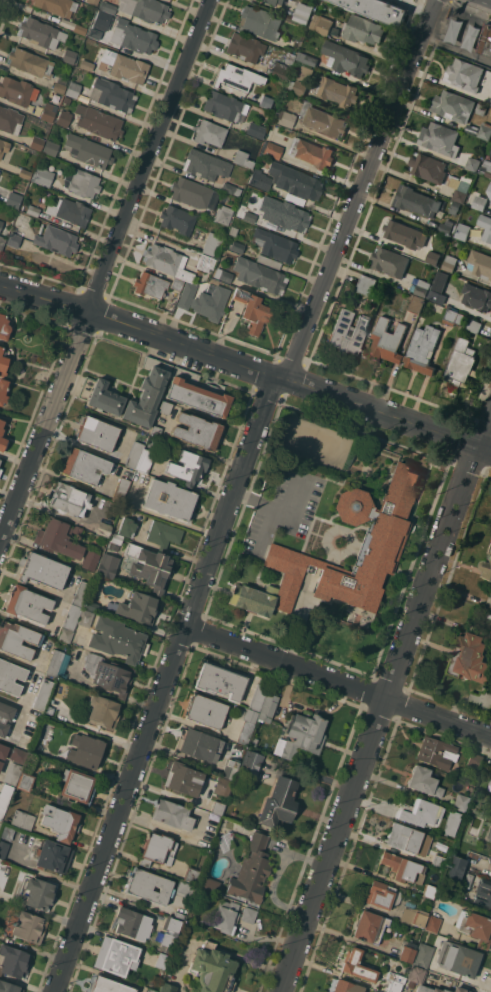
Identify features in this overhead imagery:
building: (93, 1)
building: (276, 2)
building: (58, 6)
building: (108, 7)
building: (145, 9)
building: (378, 10)
building: (302, 12)
building: (102, 19)
building: (259, 22)
building: (321, 24)
building: (80, 29)
building: (363, 29)
building: (41, 33)
building: (133, 36)
building: (485, 40)
building: (245, 47)
building: (69, 55)
building: (306, 58)
building: (346, 58)
building: (288, 59)
building: (29, 62)
building: (87, 65)
building: (125, 66)
building: (281, 71)
building: (305, 73)
building: (464, 75)
building: (236, 77)
building: (60, 84)
building: (297, 86)
building: (73, 89)
building: (17, 90)
building: (337, 91)
building: (112, 95)
building: (66, 99)
building: (266, 101)
building: (490, 104)
building: (222, 105)
building: (453, 106)
building: (481, 108)
building: (48, 112)
building: (63, 118)
building: (285, 118)
building: (10, 120)
building: (325, 121)
building: (99, 122)
building: (471, 128)
building: (255, 130)
building: (485, 131)
building: (210, 133)
building: (440, 138)
building: (37, 142)
building: (3, 146)
building: (51, 147)
building: (272, 149)
building: (88, 150)
building: (490, 152)
building: (311, 153)
building: (242, 159)
building: (206, 164)
building: (472, 164)
building: (428, 168)
building: (487, 168)
building: (25, 173)
building: (42, 176)
building: (287, 180)
building: (82, 183)
building: (231, 188)
building: (459, 188)
road: (358, 189)
building: (490, 190)
building: (193, 193)
building: (269, 197)
building: (13, 199)
building: (488, 200)
building: (415, 201)
building: (479, 202)
building: (454, 207)
building: (32, 210)
building: (70, 211)
building: (251, 212)
building: (223, 214)
building: (290, 216)
building: (177, 219)
building: (1, 224)
building: (485, 226)
building: (444, 228)
building: (233, 230)
building: (462, 231)
building: (405, 232)
building: (13, 240)
building: (56, 240)
building: (2, 242)
building: (212, 244)
building: (275, 244)
building: (237, 246)
building: (433, 257)
building: (269, 261)
building: (390, 261)
building: (167, 262)
building: (204, 262)
building: (449, 263)
building: (480, 264)
road: (104, 267)
building: (223, 275)
building: (259, 275)
building: (177, 283)
building: (366, 284)
building: (150, 285)
building: (422, 287)
building: (438, 287)
building: (186, 295)
building: (476, 297)
building: (210, 301)
building: (417, 304)
building: (253, 311)
building: (453, 317)
building: (474, 325)
building: (3, 327)
building: (347, 333)
building: (387, 340)
building: (423, 349)
building: (3, 360)
building: (461, 364)
road: (246, 365)
building: (3, 391)
building: (147, 392)
building: (197, 392)
building: (100, 395)
building: (165, 407)
building: (155, 431)
building: (196, 431)
building: (97, 433)
building: (2, 438)
building: (134, 454)
building: (0, 459)
building: (152, 460)
building: (84, 466)
building: (189, 467)
building: (0, 469)
building: (121, 489)
building: (69, 499)
building: (168, 499)
road: (272, 506)
building: (130, 511)
building: (127, 527)
building: (103, 528)
building: (163, 532)
building: (385, 533)
building: (59, 538)
building: (115, 541)
building: (90, 559)
building: (108, 565)
building: (148, 566)
building: (487, 568)
building: (42, 570)
building: (81, 593)
building: (28, 604)
building: (91, 605)
building: (138, 607)
building: (71, 616)
building: (85, 618)
building: (64, 634)
building: (17, 639)
building: (118, 639)
building: (471, 657)
building: (55, 662)
building: (109, 674)
building: (11, 677)
building: (219, 681)
road: (337, 681)
road: (164, 683)
building: (43, 694)
building: (258, 697)
building: (481, 699)
road: (381, 701)
building: (53, 704)
building: (268, 707)
building: (6, 711)
building: (206, 711)
building: (103, 712)
building: (247, 726)
building: (31, 727)
building: (3, 728)
building: (302, 734)
building: (253, 741)
building: (200, 745)
building: (86, 750)
building: (3, 751)
building: (436, 752)
building: (17, 755)
building: (475, 760)
building: (251, 763)
building: (1, 764)
building: (230, 769)
building: (12, 773)
building: (183, 778)
building: (25, 781)
building: (424, 781)
building: (490, 782)
building: (77, 786)
building: (222, 786)
building: (490, 791)
building: (4, 798)
building: (279, 802)
building: (461, 802)
building: (217, 808)
building: (420, 812)
building: (172, 814)
building: (21, 819)
building: (60, 822)
building: (452, 822)
building: (6, 832)
building: (490, 834)
building: (404, 837)
building: (490, 841)
building: (3, 849)
building: (157, 849)
building: (54, 856)
building: (433, 859)
building: (403, 867)
building: (454, 868)
building: (251, 869)
building: (192, 875)
building: (467, 880)
building: (208, 884)
building: (148, 886)
building: (184, 889)
building: (429, 891)
building: (483, 892)
building: (39, 893)
building: (382, 895)
building: (248, 914)
building: (180, 915)
building: (226, 916)
building: (419, 917)
building: (133, 923)
building: (432, 923)
building: (28, 925)
building: (370, 926)
building: (474, 927)
building: (174, 930)
building: (408, 951)
building: (423, 955)
building: (116, 956)
building: (458, 959)
building: (163, 960)
building: (13, 961)
building: (355, 967)
building: (213, 970)
building: (416, 975)
building: (395, 982)
building: (108, 985)
building: (346, 986)
building: (9, 987)
building: (167, 988)
building: (379, 988)
building: (429, 989)
building: (459, 989)
building: (151, 990)

